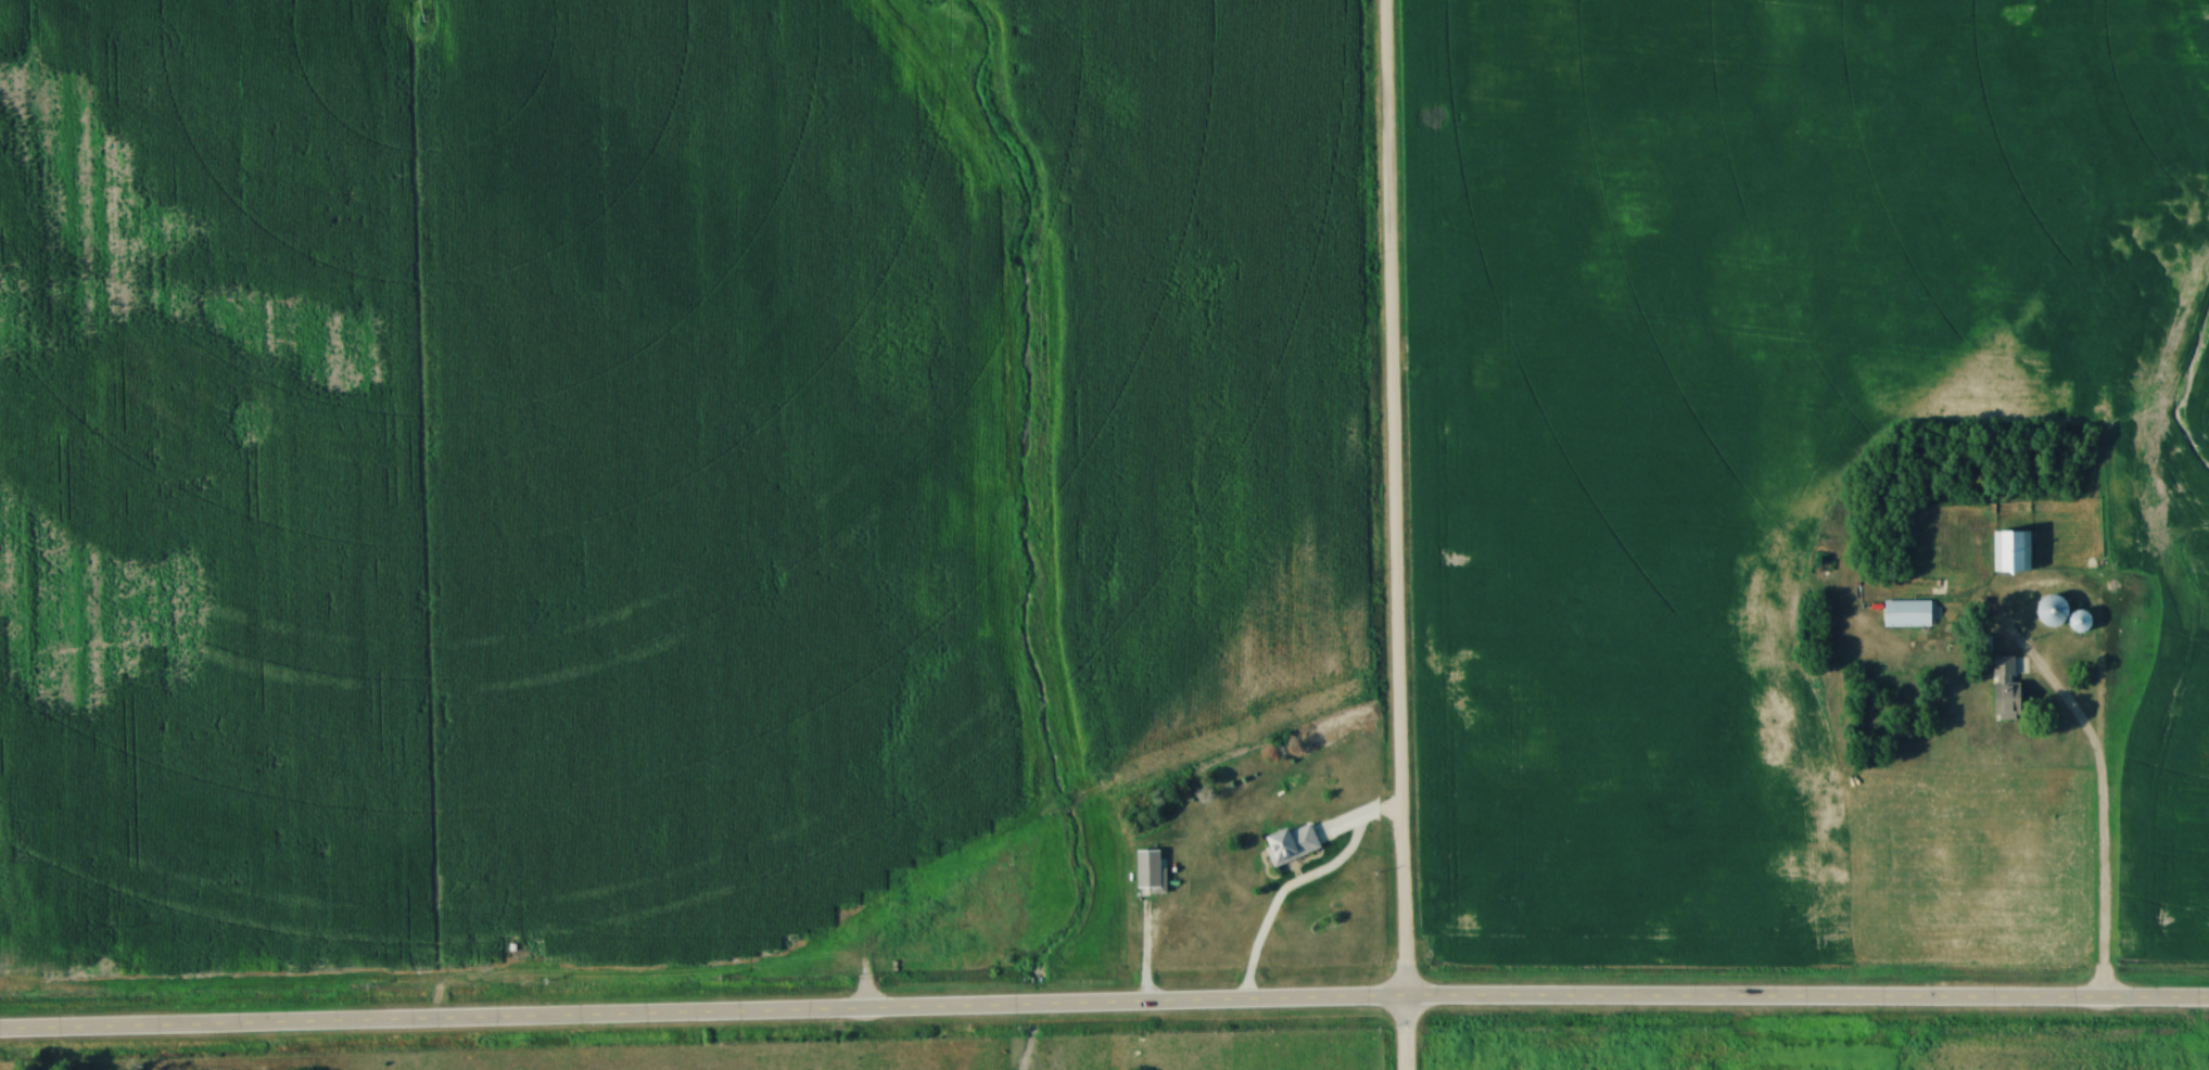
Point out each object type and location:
road: (1392, 534)
building: (2011, 553)
building: (2053, 613)
building: (1907, 614)
building: (2080, 623)
building: (2006, 690)
road: (2098, 830)
building: (1292, 844)
road: (1104, 1010)

